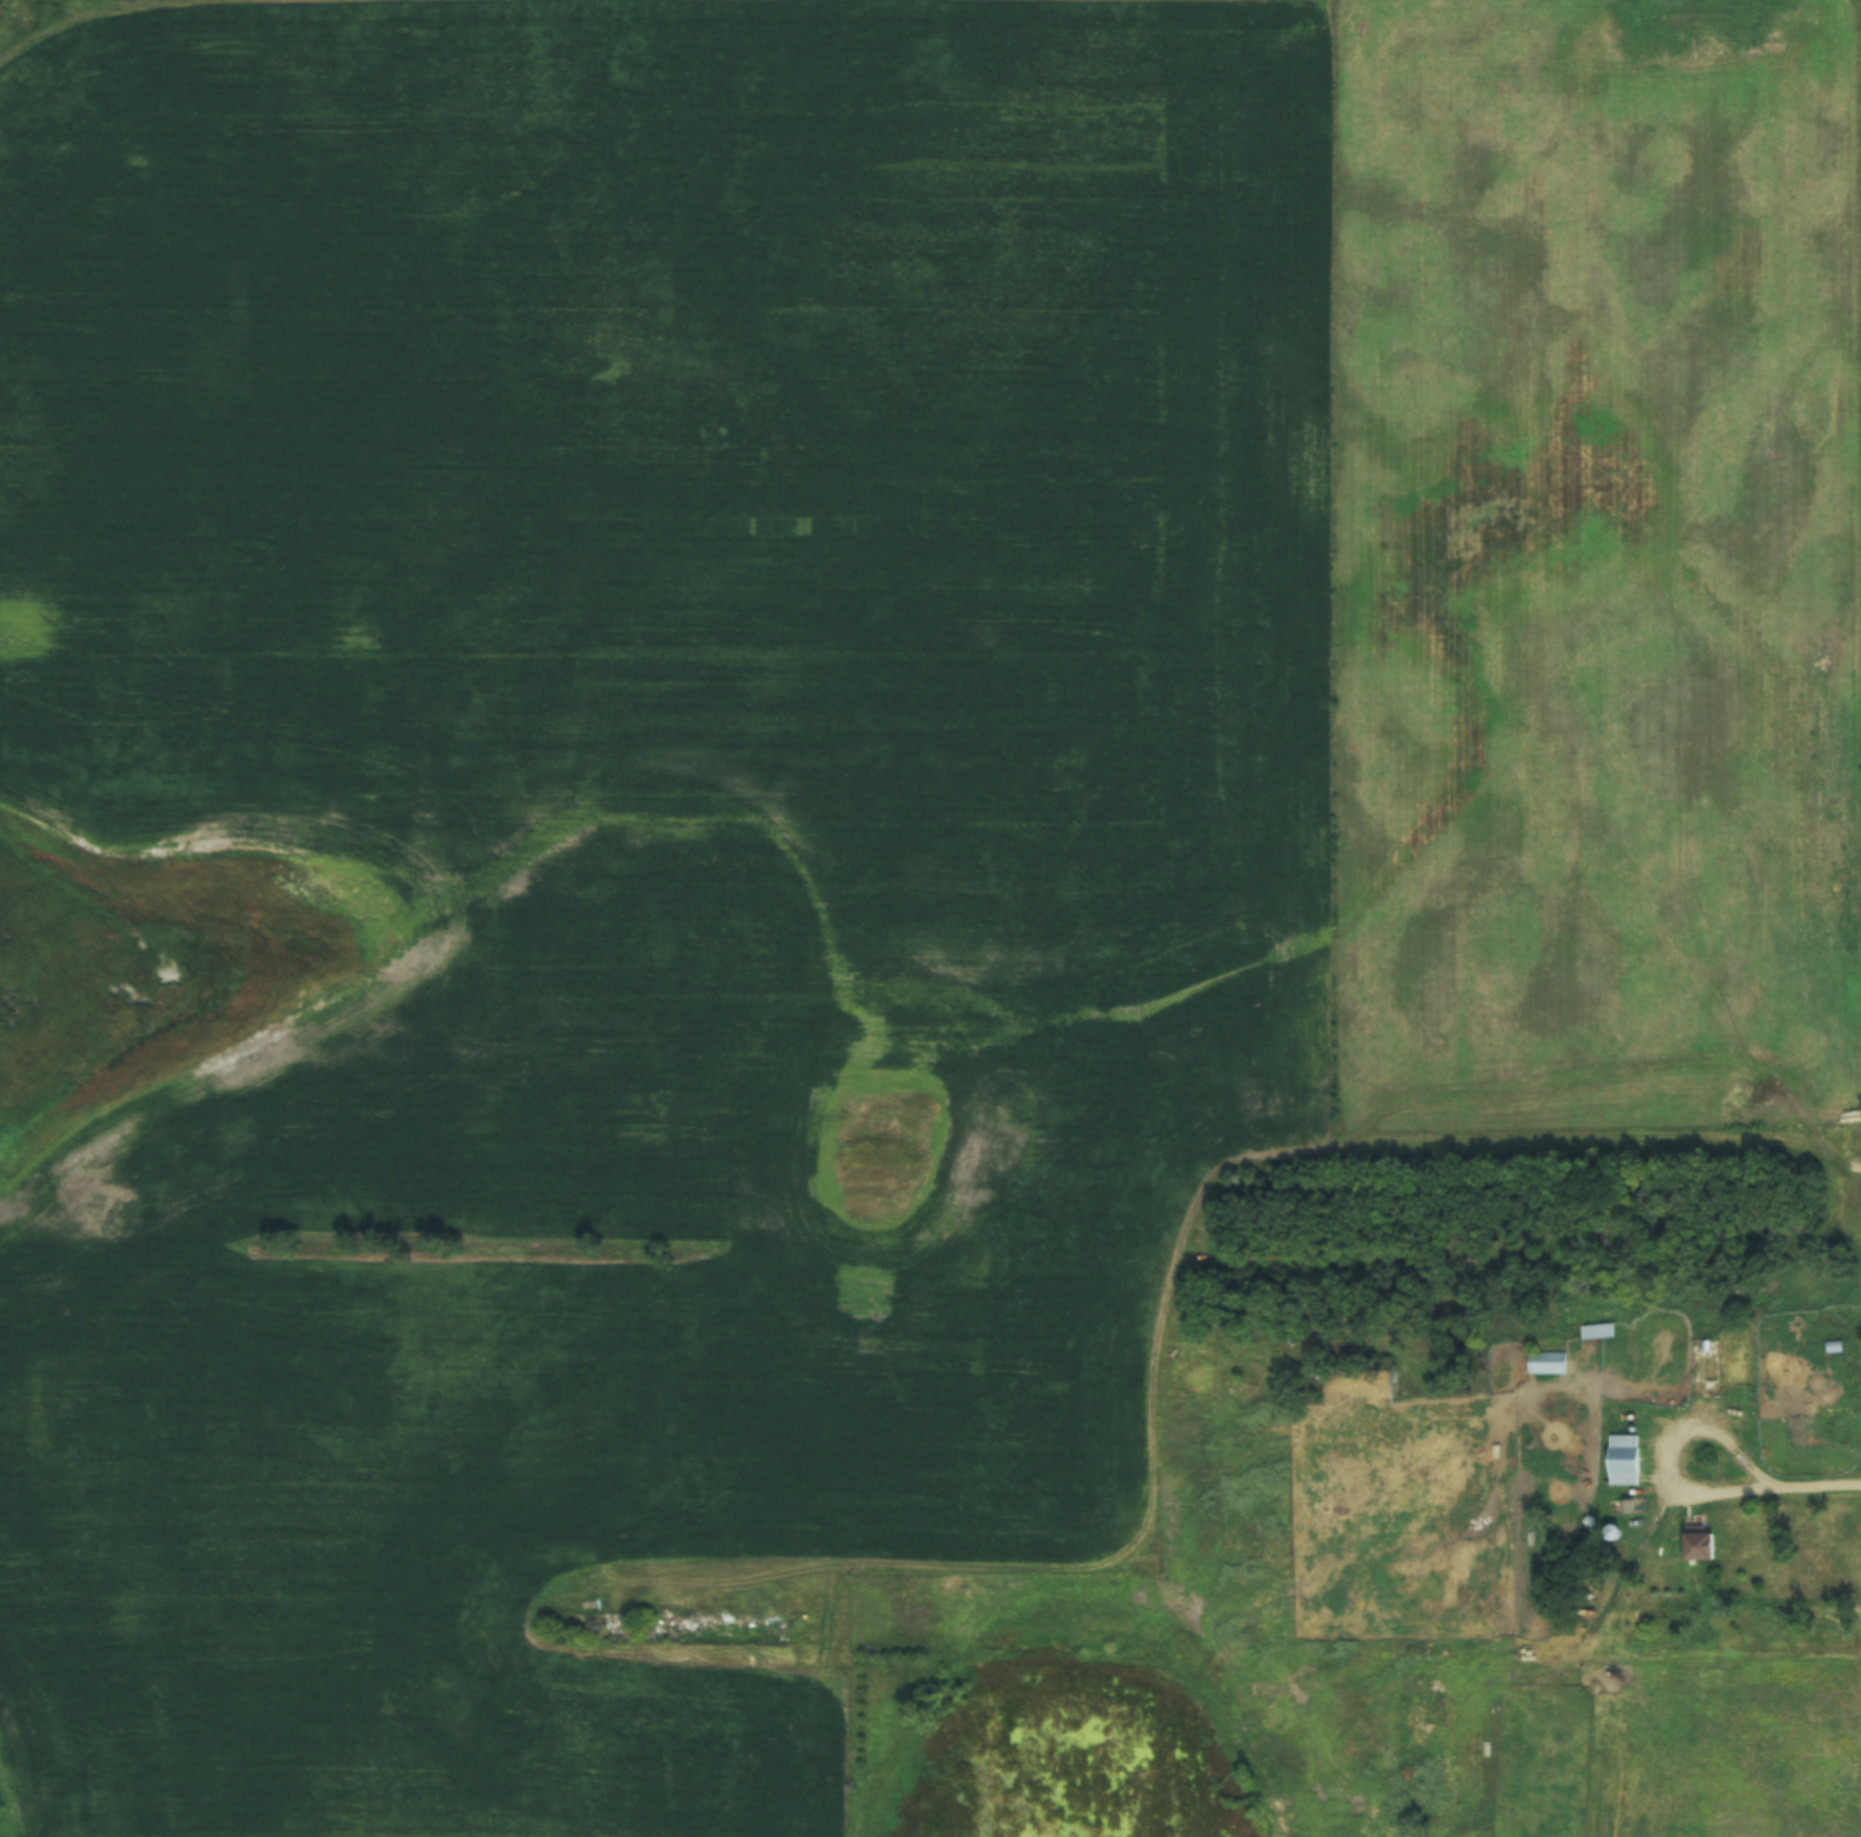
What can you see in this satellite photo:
building: (1598, 1332)
building: (1547, 1363)
road: (1668, 1459)
building: (1625, 1461)
building: (1569, 1484)
road: (1817, 1490)
building: (1700, 1546)

